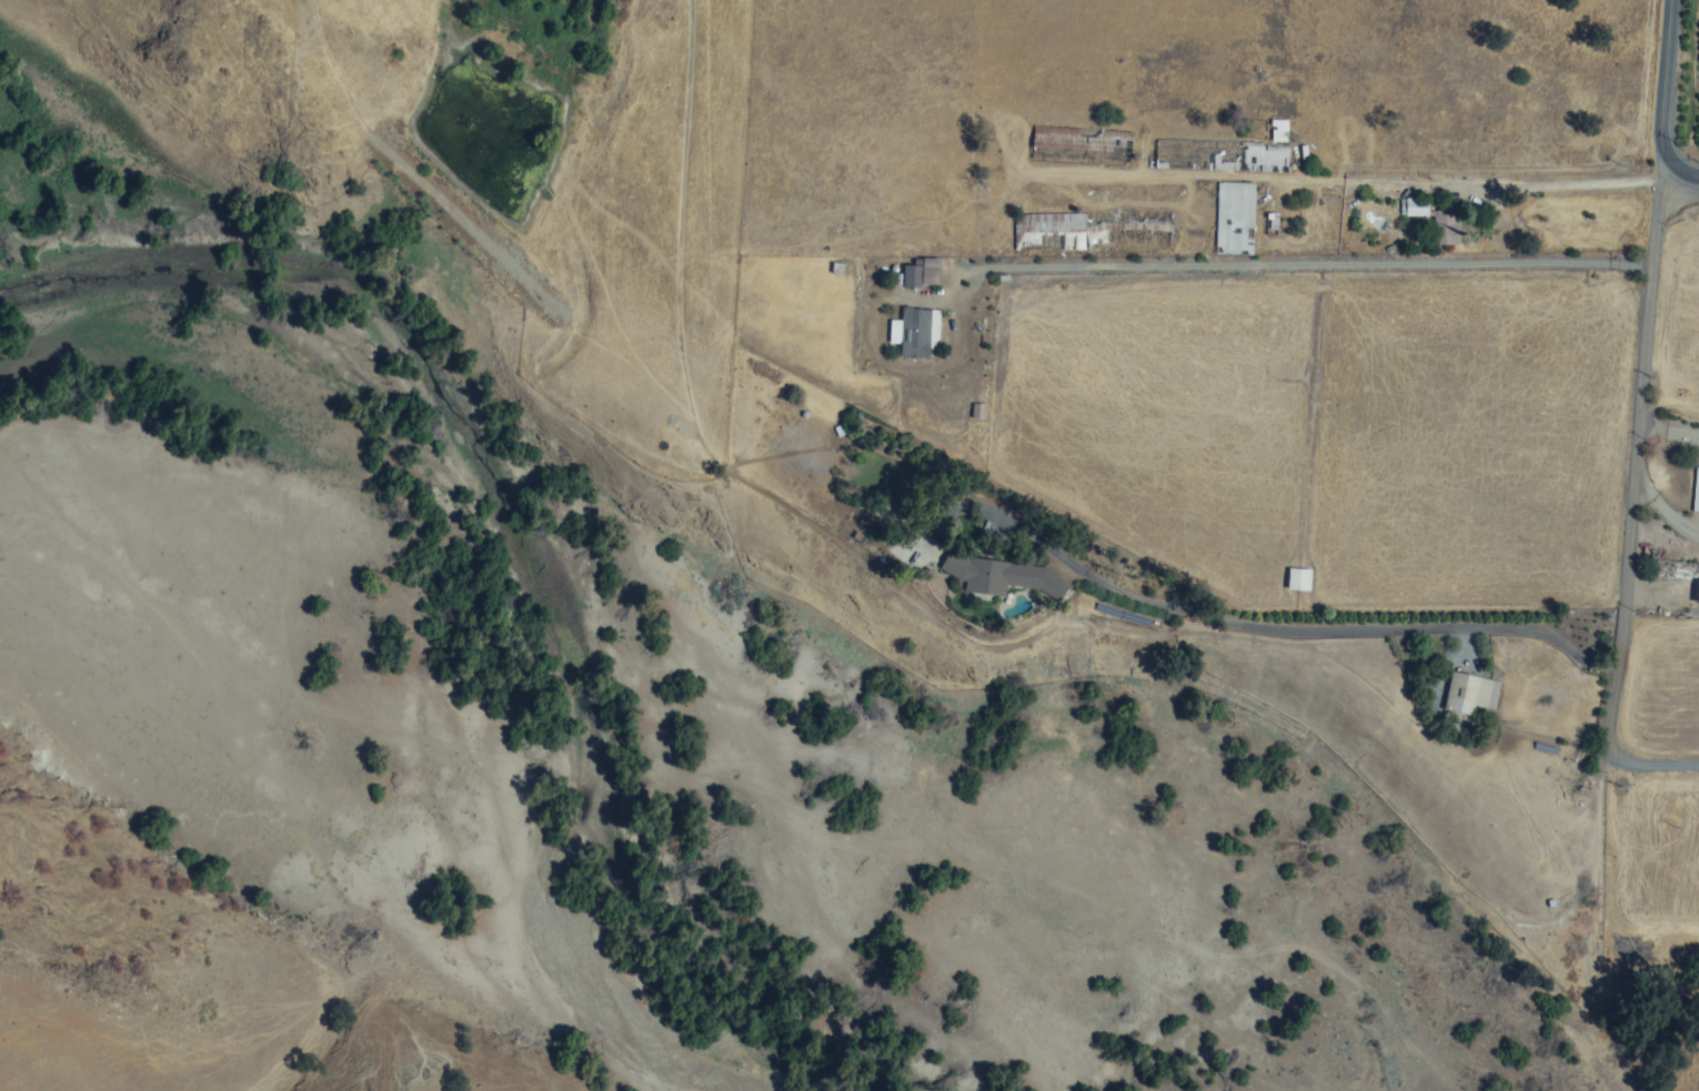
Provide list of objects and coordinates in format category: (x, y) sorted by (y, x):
road: (1667, 85)
crop: (1675, 90)
building: (1278, 131)
building: (1042, 137)
building: (1107, 140)
building: (1241, 158)
road: (1681, 171)
road: (1538, 182)
building: (1416, 206)
building: (1234, 218)
building: (1445, 226)
road: (1308, 261)
building: (922, 275)
building: (915, 333)
building: (976, 411)
road: (1638, 456)
crop: (1296, 486)
building: (1696, 491)
river: (515, 544)
building: (993, 574)
road: (1411, 628)
building: (1469, 694)
road: (1648, 765)

